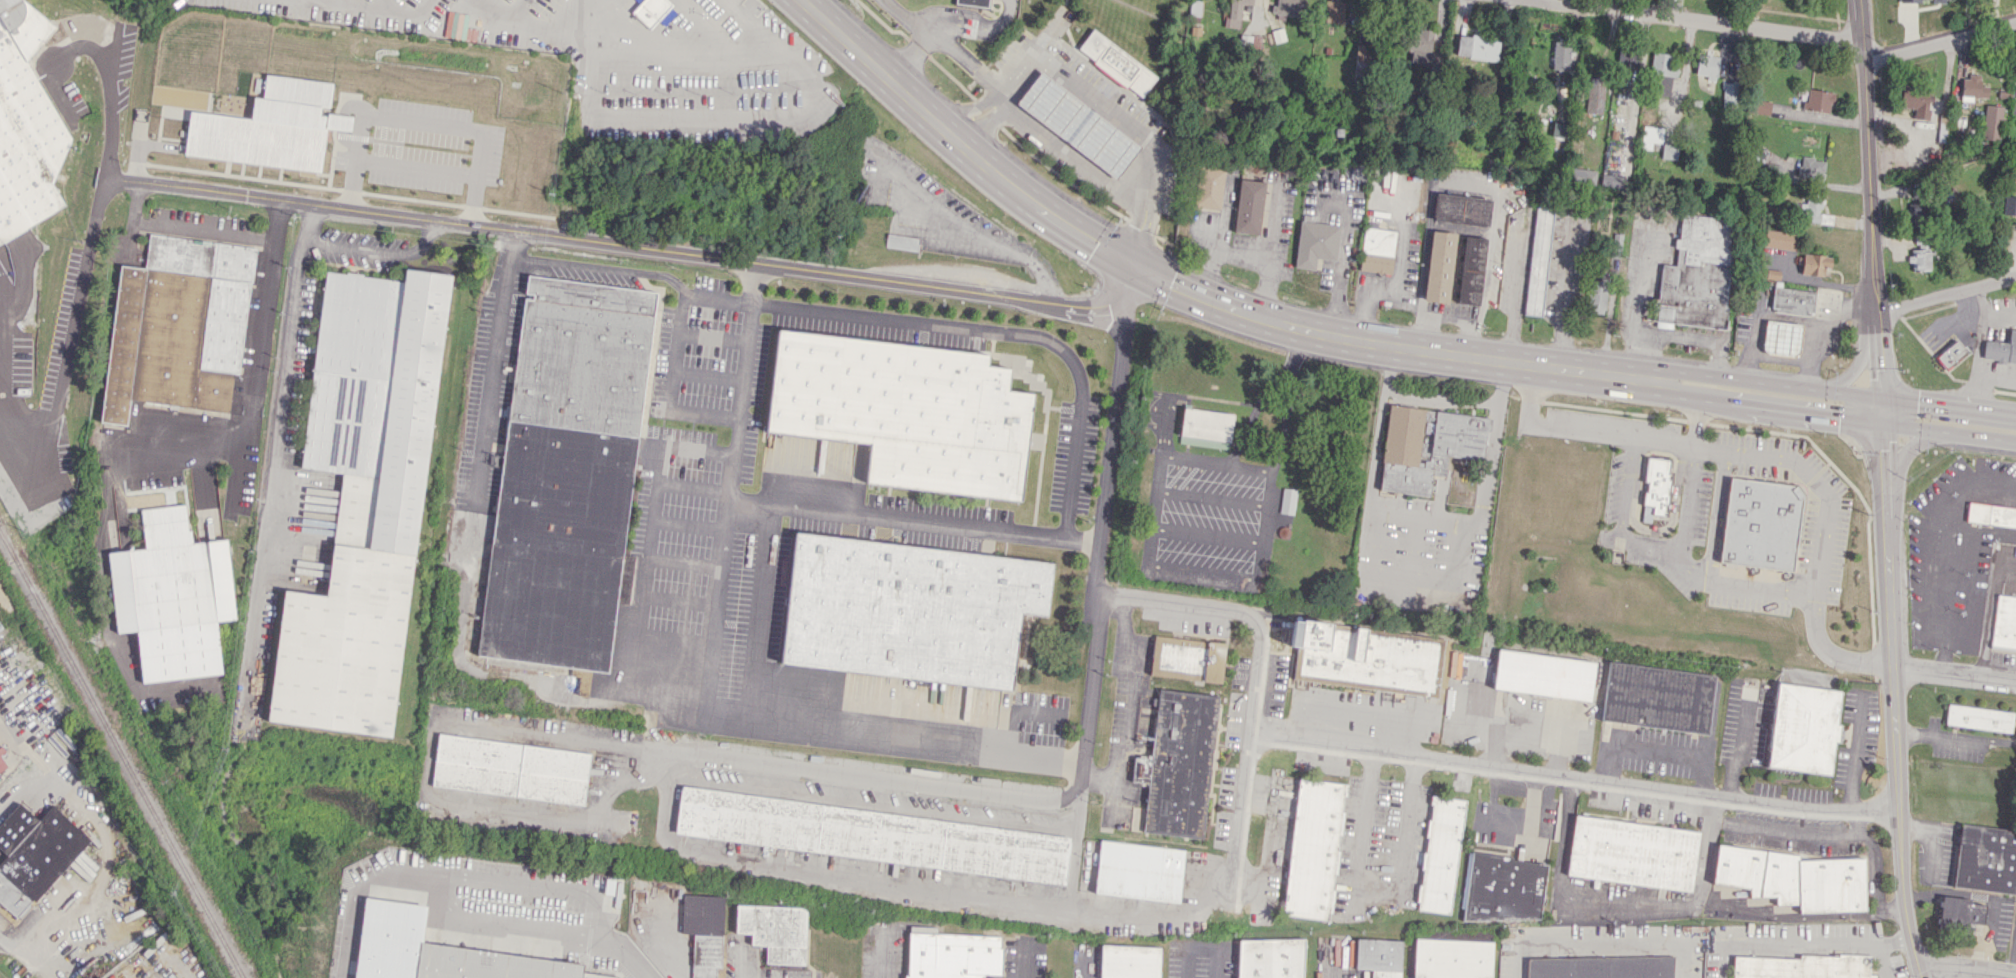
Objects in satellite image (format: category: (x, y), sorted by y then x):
building: (1923, 0)
building: (972, 3)
road: (1612, 4)
building: (1194, 7)
building: (1288, 7)
road: (383, 9)
building: (1333, 11)
building: (653, 12)
building: (1235, 12)
road: (948, 18)
road: (1704, 20)
road: (1940, 38)
road: (943, 41)
building: (1249, 42)
building: (1421, 46)
building: (1477, 47)
road: (687, 53)
building: (1560, 55)
building: (1362, 56)
road: (862, 57)
building: (1115, 62)
building: (1663, 64)
building: (1706, 66)
road: (1683, 72)
building: (1972, 86)
road: (109, 93)
building: (1729, 94)
building: (1594, 95)
building: (1817, 100)
building: (1914, 100)
building: (2013, 106)
building: (1760, 107)
road: (965, 109)
road: (717, 118)
road: (1126, 120)
road: (420, 121)
building: (1991, 122)
road: (985, 123)
building: (1076, 124)
gas station: (1076, 124)
building: (25, 125)
building: (269, 127)
building: (1650, 136)
road: (956, 141)
building: (1669, 151)
road: (1071, 153)
building: (1810, 167)
road: (414, 168)
building: (1771, 169)
building: (1582, 176)
building: (1611, 180)
road: (1465, 183)
building: (1208, 187)
building: (2009, 205)
building: (1248, 206)
building: (1461, 209)
building: (1811, 210)
building: (1911, 212)
road: (1058, 220)
road: (1219, 220)
road: (182, 227)
building: (1779, 239)
building: (902, 242)
building: (1315, 243)
road: (377, 248)
road: (1215, 248)
road: (645, 250)
building: (1377, 250)
building: (1919, 253)
road: (1267, 254)
road: (1341, 257)
building: (1538, 260)
building: (1814, 264)
traffic signals: (1132, 265)
building: (1439, 266)
road: (622, 270)
building: (1470, 270)
building: (1697, 273)
road: (1386, 284)
road: (1512, 290)
road: (1566, 294)
road: (1945, 294)
building: (1596, 296)
road: (1204, 298)
building: (1792, 300)
road: (1638, 301)
road: (1447, 318)
building: (178, 326)
road: (61, 330)
road: (1004, 330)
building: (1781, 337)
road: (1692, 339)
road: (1297, 344)
road: (1978, 348)
building: (2001, 349)
building: (1951, 355)
road: (1466, 356)
road: (491, 369)
road: (1852, 369)
traffic signals: (1878, 370)
road: (1767, 382)
road: (673, 386)
road: (1442, 397)
traffic signals: (1916, 403)
road: (1947, 407)
road: (1766, 408)
road: (1257, 410)
building: (906, 411)
road: (1285, 416)
traffic signals: (1839, 418)
road: (1696, 423)
building: (1205, 428)
road: (1381, 428)
road: (1163, 429)
road: (1580, 431)
road: (1949, 431)
road: (273, 439)
road: (1492, 443)
road: (161, 445)
road: (1111, 446)
building: (1426, 446)
traffic signals: (1883, 449)
road: (1905, 451)
road: (1753, 453)
building: (566, 473)
building: (1654, 487)
road: (1885, 489)
road: (1212, 498)
building: (363, 499)
building: (1287, 500)
road: (796, 508)
building: (1991, 514)
road: (1622, 516)
road: (1424, 517)
building: (1760, 524)
road: (1207, 535)
road: (1377, 539)
railway: (6, 544)
road: (650, 549)
road: (1459, 551)
road: (1949, 553)
road: (1147, 565)
road: (1415, 573)
road: (1917, 578)
building: (172, 596)
building: (909, 610)
road: (756, 613)
road: (1988, 613)
building: (2005, 622)
building: (1366, 657)
building: (1187, 658)
road: (1258, 671)
building: (1543, 674)
road: (1953, 674)
building: (1657, 697)
road: (1129, 708)
building: (1978, 718)
road: (786, 726)
building: (1803, 728)
road: (1943, 736)
road: (2003, 741)
road: (26, 747)
road: (1853, 752)
railway: (124, 755)
building: (2, 764)
building: (1178, 764)
road: (426, 769)
building: (510, 769)
road: (1575, 779)
road: (961, 790)
road: (1530, 808)
road: (1487, 814)
road: (1771, 829)
building: (871, 834)
road: (1561, 835)
road: (1074, 847)
building: (1313, 849)
building: (1632, 853)
building: (34, 854)
building: (1440, 854)
road: (105, 857)
building: (1986, 859)
road: (1703, 864)
building: (1139, 870)
road: (1873, 870)
building: (1794, 878)
road: (1377, 888)
building: (1503, 888)
road: (988, 898)
road: (1622, 906)
building: (1959, 912)
road: (1787, 916)
road: (505, 931)
building: (774, 931)
building: (703, 932)
road: (1594, 939)
road: (1796, 939)
building: (437, 951)
road: (878, 954)
building: (952, 955)
building: (1378, 957)
building: (1268, 958)
building: (1452, 958)
road: (1880, 958)
road: (1723, 959)
building: (1128, 961)
building: (1802, 966)
building: (1597, 967)
road: (1967, 968)

